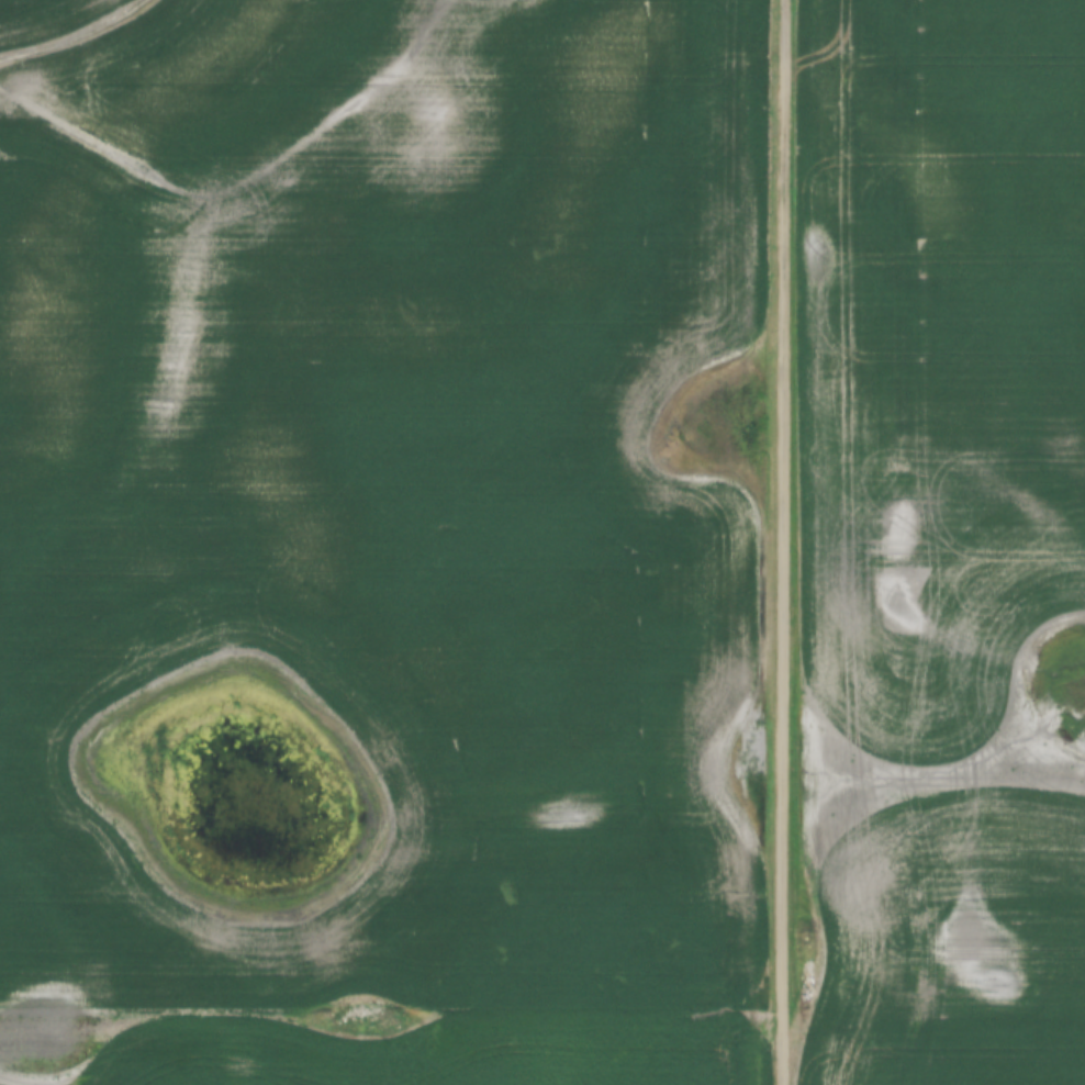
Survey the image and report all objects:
road: (780, 542)

